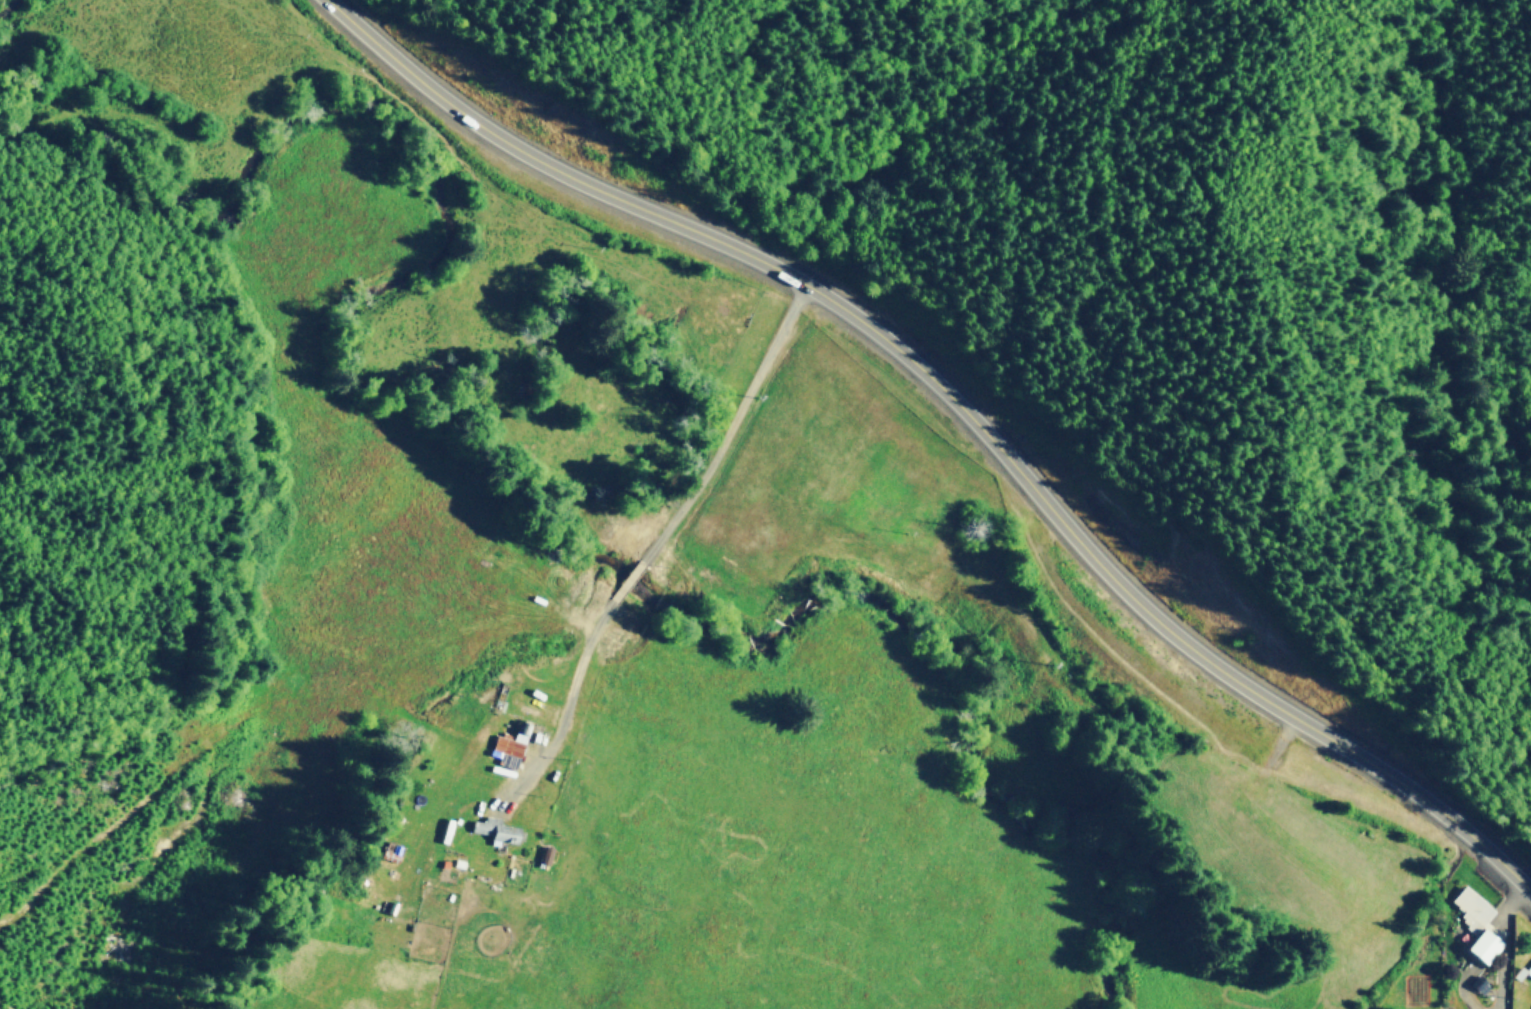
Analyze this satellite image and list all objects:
road: (225, 313)
road: (960, 405)
road: (663, 534)
building: (1468, 905)

